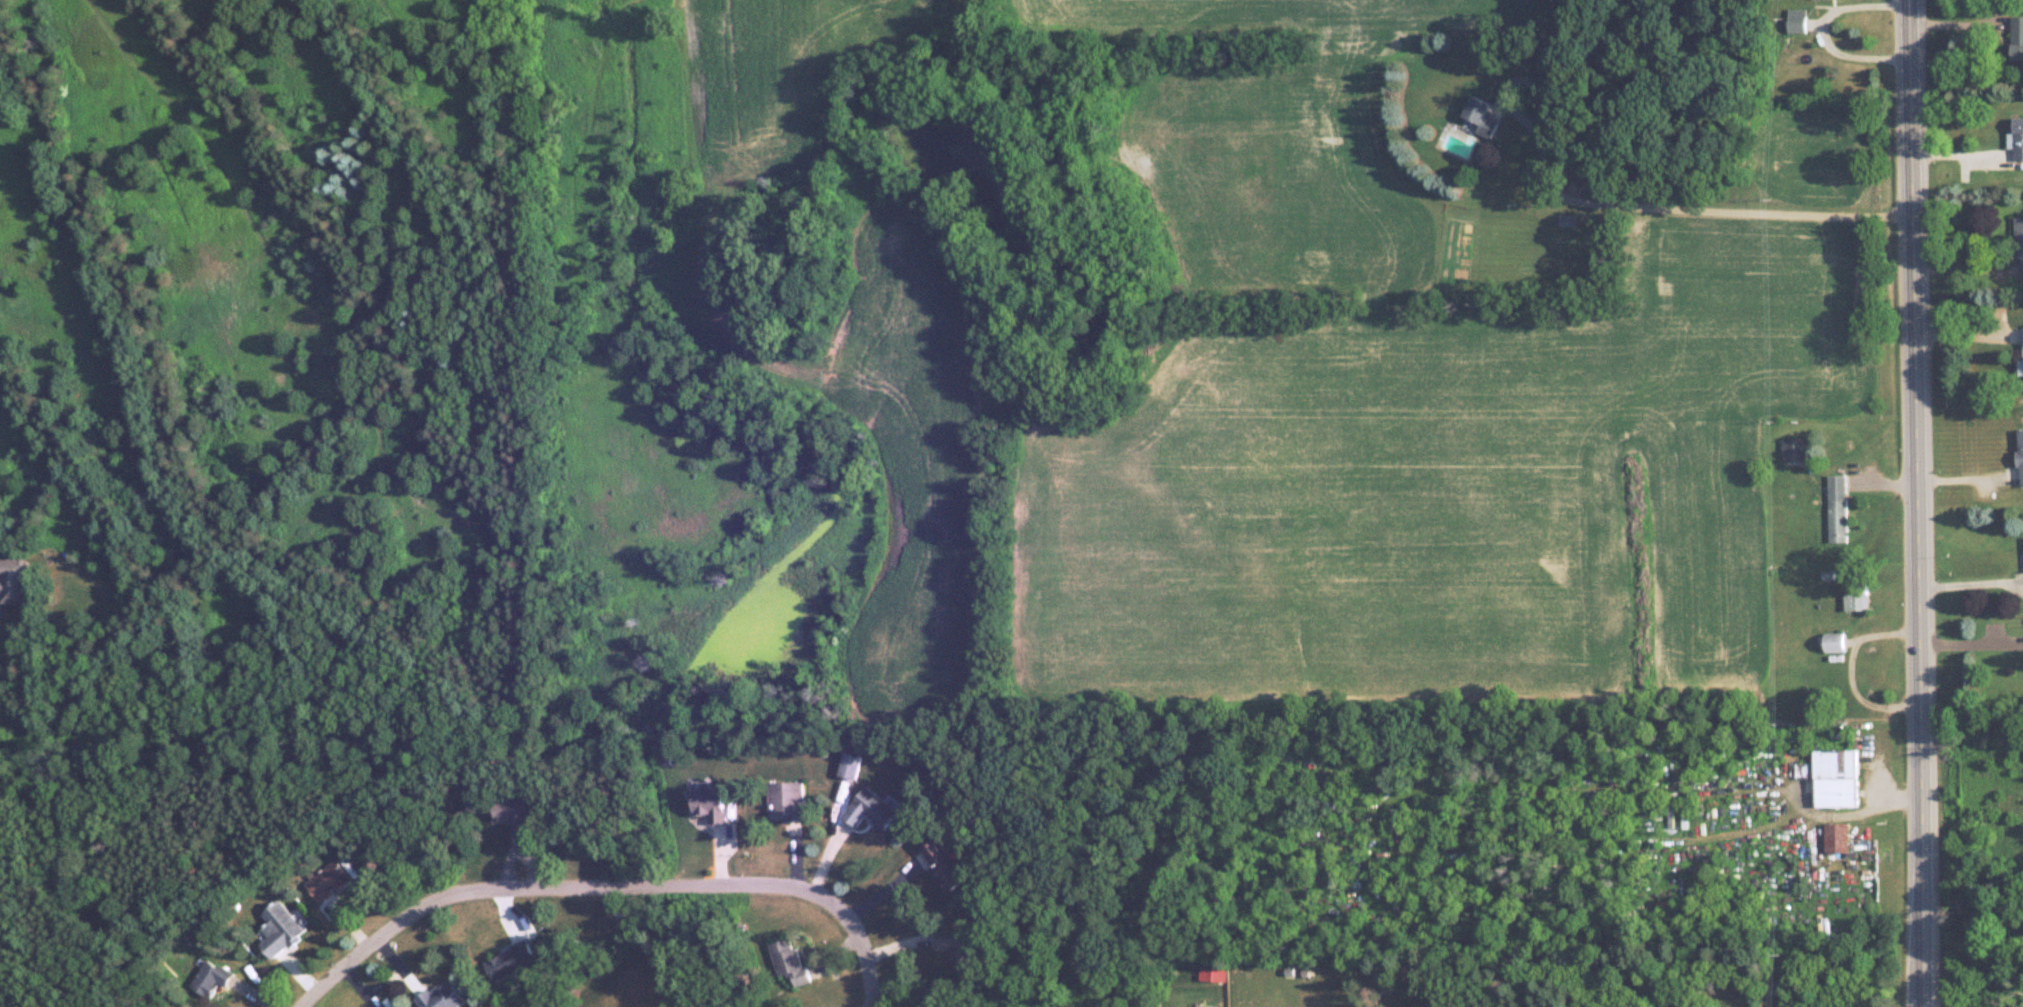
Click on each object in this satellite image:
building: (1796, 19)
road: (1833, 26)
building: (2017, 36)
building: (1480, 115)
building: (2018, 137)
road: (1693, 208)
building: (1566, 219)
building: (2019, 245)
building: (2020, 362)
building: (1794, 449)
building: (2020, 455)
road: (1925, 503)
building: (1836, 508)
building: (12, 580)
road: (1974, 581)
building: (1855, 595)
building: (1833, 642)
road: (1974, 643)
road: (1849, 667)
building: (850, 765)
building: (1831, 777)
building: (786, 801)
building: (711, 804)
building: (871, 809)
building: (514, 814)
building: (943, 865)
building: (327, 881)
road: (608, 889)
building: (278, 929)
building: (957, 947)
building: (509, 961)
building: (789, 963)
building: (1213, 975)
building: (210, 977)
building: (442, 996)
building: (384, 1005)

